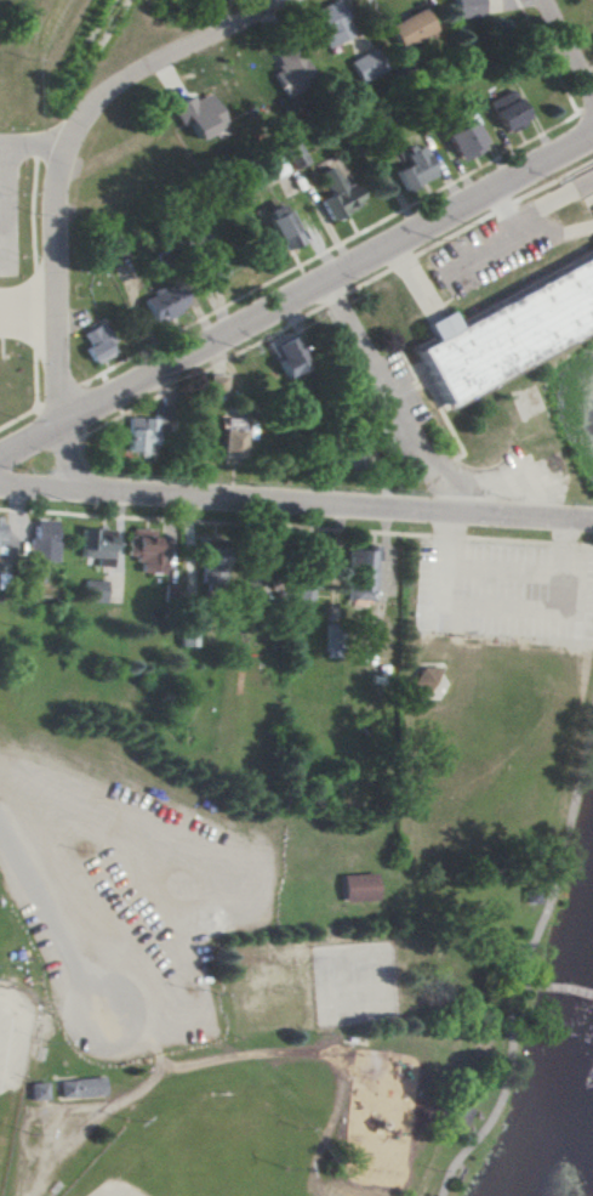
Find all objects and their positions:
building: (461, 7)
building: (330, 23)
building: (407, 28)
building: (592, 35)
road: (568, 49)
road: (543, 57)
building: (364, 64)
building: (287, 69)
road: (586, 107)
building: (502, 110)
building: (195, 115)
building: (458, 136)
road: (63, 146)
road: (30, 148)
road: (36, 153)
building: (289, 154)
building: (411, 168)
building: (268, 169)
building: (332, 192)
road: (564, 194)
parking lot: (588, 203)
road: (494, 204)
road: (2, 208)
road: (517, 220)
building: (279, 226)
road: (468, 227)
road: (577, 229)
road: (507, 239)
road: (329, 248)
parking lot: (494, 249)
building: (207, 255)
road: (35, 283)
road: (296, 294)
road: (332, 299)
building: (160, 301)
road: (28, 312)
building: (513, 334)
road: (0, 336)
building: (95, 344)
road: (1, 347)
building: (284, 355)
road: (184, 380)
building: (215, 384)
road: (61, 396)
road: (398, 396)
road: (437, 406)
road: (21, 416)
building: (150, 431)
building: (229, 437)
road: (67, 454)
building: (343, 455)
building: (355, 464)
road: (103, 481)
road: (296, 500)
road: (213, 522)
road: (447, 525)
building: (2, 532)
road: (564, 532)
road: (445, 535)
building: (45, 539)
road: (507, 540)
road: (561, 543)
road: (583, 544)
building: (98, 545)
building: (149, 549)
building: (209, 560)
building: (267, 562)
building: (226, 568)
road: (504, 568)
building: (366, 574)
building: (307, 577)
parking lot: (504, 588)
building: (92, 590)
road: (501, 611)
building: (480, 627)
building: (432, 684)
building: (361, 888)
parking lot: (122, 895)
road: (52, 917)
park: (298, 919)
road: (524, 953)
road: (552, 987)
road: (136, 1037)
park: (11, 1066)
road: (155, 1072)
building: (82, 1087)
building: (40, 1090)
road: (427, 1090)
building: (458, 1115)
road: (330, 1121)
park: (190, 1151)
river: (554, 1155)

